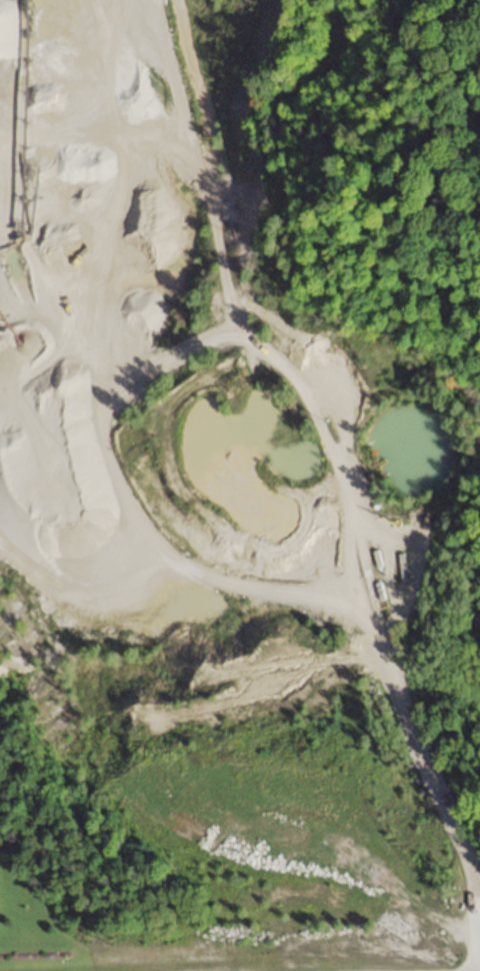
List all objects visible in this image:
quarry: (221, 514)
road: (429, 778)

